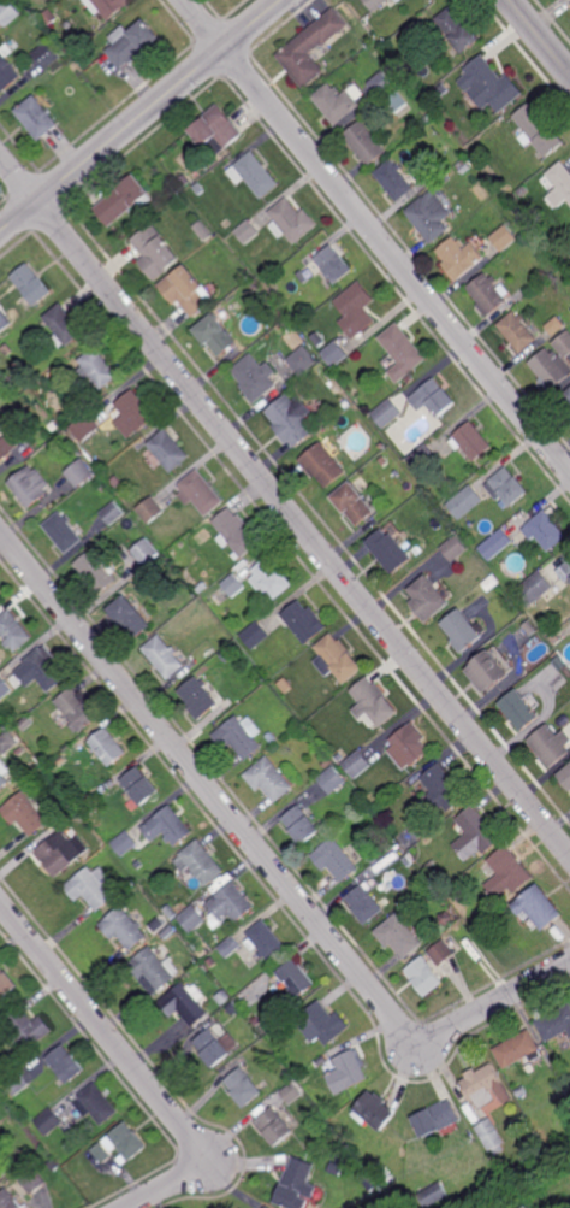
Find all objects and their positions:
building: (379, 4)
building: (109, 7)
building: (10, 13)
building: (51, 18)
building: (69, 25)
building: (417, 25)
building: (459, 31)
road: (539, 36)
building: (133, 45)
building: (313, 49)
building: (48, 57)
building: (7, 73)
building: (381, 86)
building: (491, 87)
building: (438, 90)
building: (398, 102)
building: (339, 104)
building: (40, 118)
road: (141, 118)
building: (431, 118)
building: (219, 132)
building: (540, 132)
building: (367, 145)
building: (464, 167)
building: (255, 176)
building: (447, 178)
building: (393, 181)
building: (186, 182)
building: (559, 183)
building: (201, 190)
building: (524, 193)
building: (172, 195)
building: (183, 196)
building: (516, 199)
building: (126, 201)
building: (431, 214)
building: (292, 220)
building: (248, 231)
road: (376, 235)
building: (505, 237)
building: (523, 247)
building: (158, 252)
building: (461, 257)
building: (331, 263)
building: (244, 273)
building: (32, 283)
building: (254, 283)
building: (189, 289)
building: (273, 289)
building: (489, 293)
building: (356, 308)
building: (5, 319)
building: (64, 324)
building: (557, 324)
building: (286, 326)
building: (519, 330)
building: (216, 332)
building: (564, 343)
building: (403, 352)
building: (336, 353)
building: (303, 360)
building: (100, 367)
building: (551, 369)
building: (255, 377)
building: (433, 397)
building: (565, 400)
building: (346, 403)
building: (135, 413)
building: (387, 413)
building: (291, 418)
building: (55, 425)
building: (85, 426)
building: (1, 431)
building: (471, 440)
building: (382, 446)
building: (6, 447)
building: (167, 450)
building: (422, 458)
building: (323, 464)
building: (81, 470)
building: (30, 485)
building: (507, 485)
building: (105, 488)
building: (201, 493)
road: (285, 502)
building: (356, 502)
building: (465, 502)
building: (152, 509)
building: (113, 513)
building: (64, 531)
building: (237, 534)
building: (527, 535)
building: (108, 547)
building: (455, 548)
building: (390, 550)
building: (418, 550)
building: (147, 552)
building: (97, 570)
building: (565, 571)
building: (272, 577)
building: (492, 582)
building: (233, 584)
building: (203, 587)
building: (534, 589)
building: (0, 597)
building: (431, 597)
building: (131, 617)
building: (542, 620)
building: (304, 621)
building: (510, 629)
building: (464, 630)
building: (13, 631)
building: (255, 635)
building: (556, 638)
building: (230, 653)
building: (165, 658)
building: (337, 659)
building: (559, 661)
building: (42, 670)
building: (491, 670)
building: (286, 685)
building: (5, 689)
building: (200, 697)
building: (374, 703)
building: (79, 709)
building: (521, 709)
building: (560, 723)
building: (26, 724)
building: (237, 738)
building: (272, 738)
building: (8, 742)
building: (552, 744)
building: (109, 747)
building: (408, 748)
building: (327, 762)
building: (357, 764)
building: (5, 777)
building: (566, 777)
building: (269, 779)
building: (332, 780)
building: (113, 783)
road: (207, 786)
building: (142, 788)
building: (103, 789)
building: (443, 790)
building: (73, 794)
building: (29, 813)
building: (302, 825)
building: (168, 826)
building: (420, 831)
building: (476, 833)
building: (125, 843)
building: (64, 853)
building: (374, 859)
building: (336, 860)
building: (201, 864)
building: (509, 874)
building: (93, 888)
building: (426, 898)
building: (228, 906)
building: (366, 906)
building: (540, 908)
building: (171, 912)
building: (191, 919)
building: (446, 919)
building: (158, 927)
building: (125, 929)
building: (168, 932)
building: (399, 936)
building: (266, 942)
building: (230, 948)
building: (203, 950)
building: (441, 953)
building: (212, 962)
building: (154, 971)
building: (424, 977)
building: (297, 979)
building: (6, 985)
building: (219, 986)
building: (224, 997)
road: (494, 1003)
building: (185, 1004)
building: (233, 1009)
building: (257, 1020)
building: (556, 1024)
building: (322, 1025)
building: (28, 1027)
building: (250, 1027)
road: (102, 1031)
building: (215, 1045)
building: (519, 1050)
building: (65, 1065)
building: (530, 1067)
building: (346, 1071)
building: (17, 1082)
building: (482, 1083)
building: (244, 1085)
building: (521, 1091)
building: (291, 1092)
building: (96, 1103)
building: (374, 1109)
building: (331, 1113)
building: (437, 1118)
building: (48, 1120)
building: (274, 1125)
building: (492, 1135)
building: (123, 1144)
building: (53, 1165)
building: (380, 1168)
building: (336, 1169)
building: (387, 1178)
building: (30, 1180)
building: (298, 1184)
road: (168, 1186)
building: (384, 1195)
building: (433, 1195)
building: (11, 1200)
building: (267, 1207)

